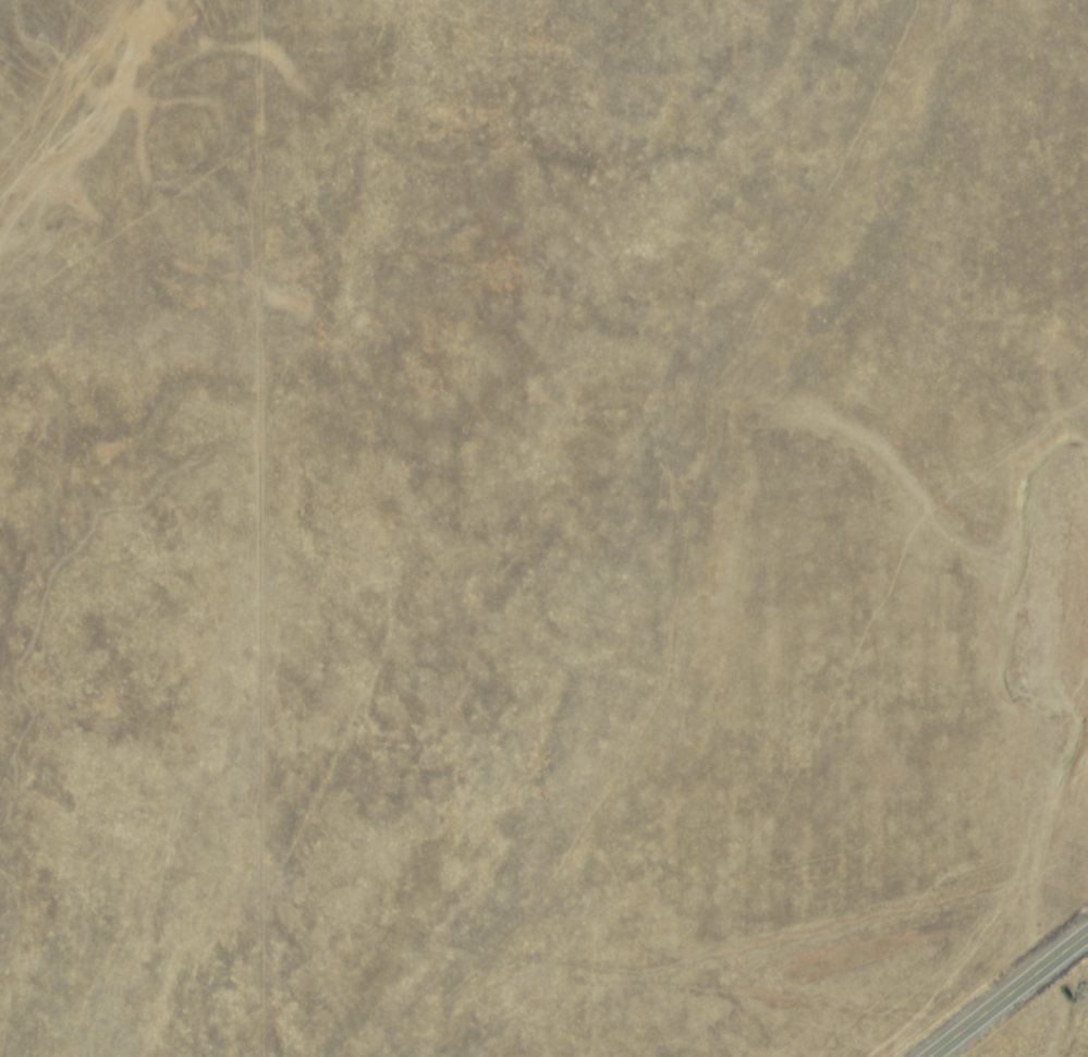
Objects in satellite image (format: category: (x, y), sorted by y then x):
road: (1008, 995)

